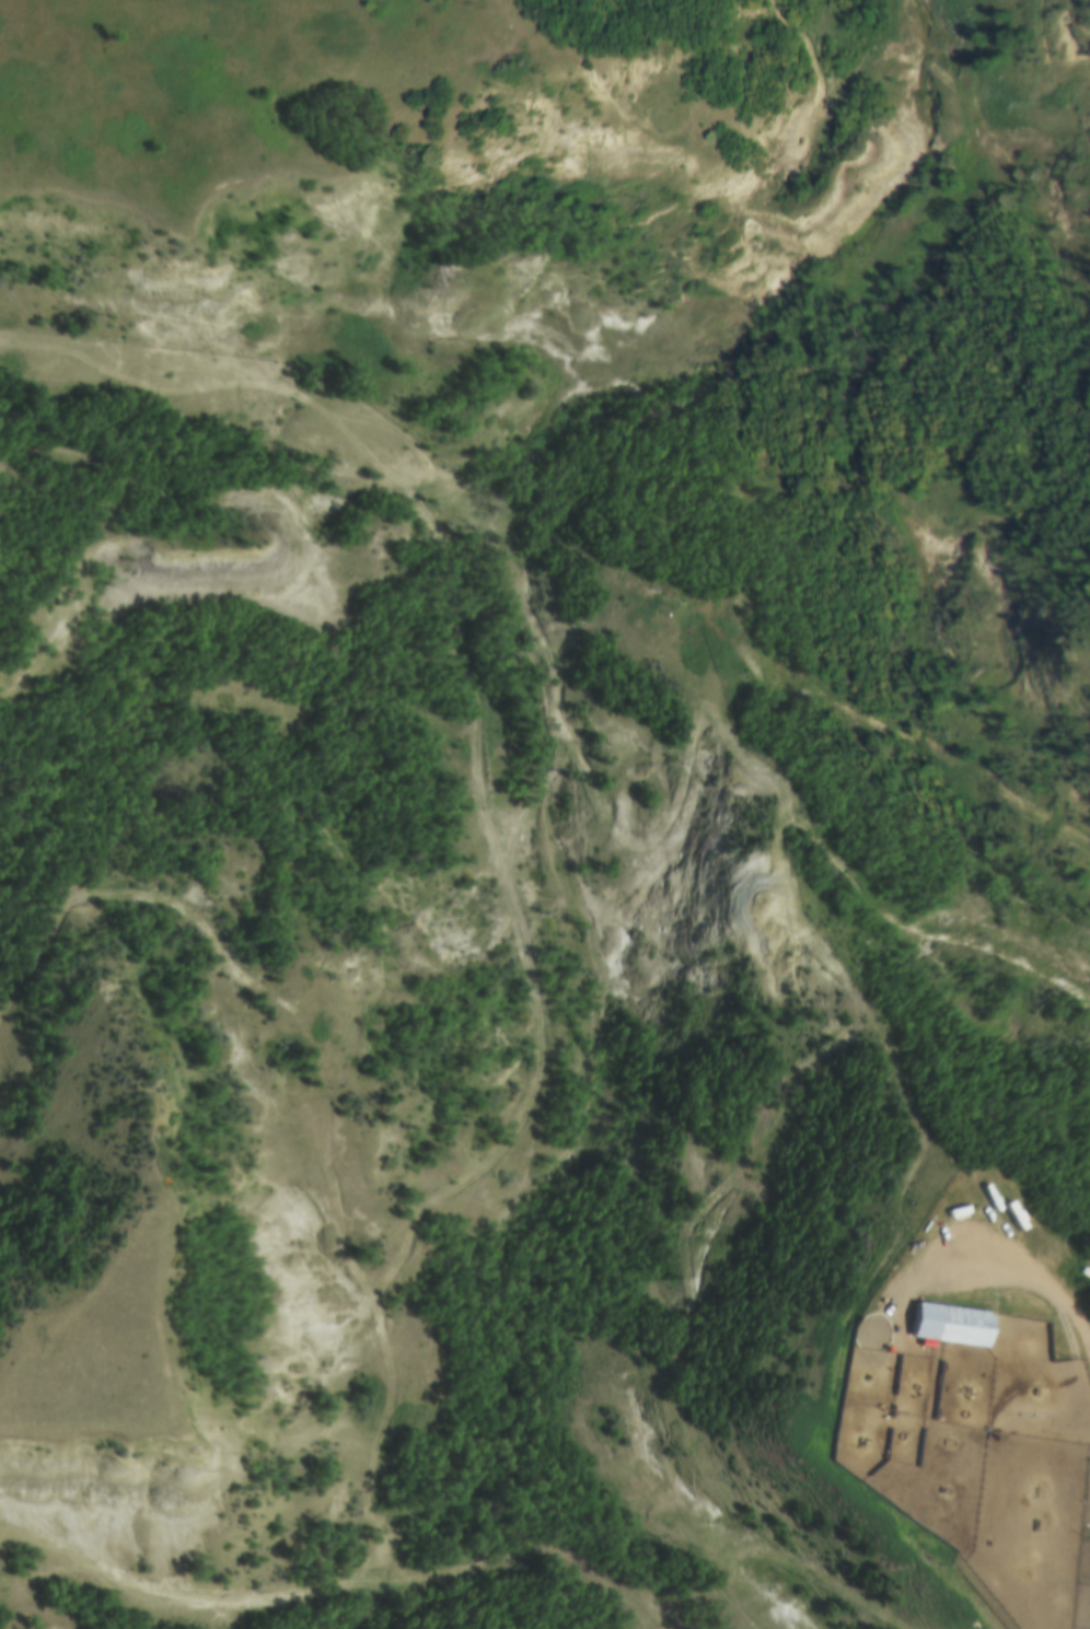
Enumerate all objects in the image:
road: (994, 1206)
building: (961, 1209)
building: (866, 1312)
building: (885, 1327)
building: (943, 1329)
road: (468, 1567)
building: (947, 1574)
road: (1031, 1594)

